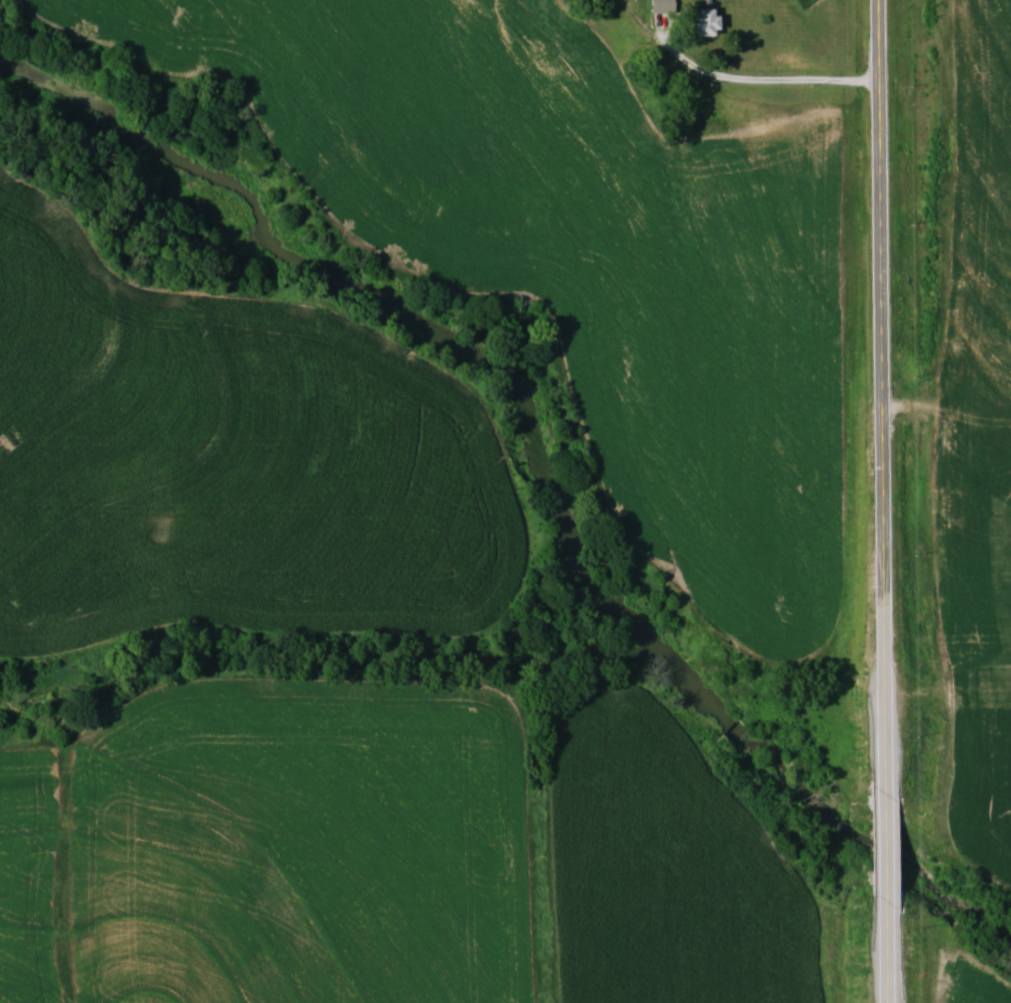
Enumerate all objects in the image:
building: (661, 6)
building: (701, 22)
road: (757, 82)
road: (880, 406)
road: (886, 857)
road: (886, 952)

